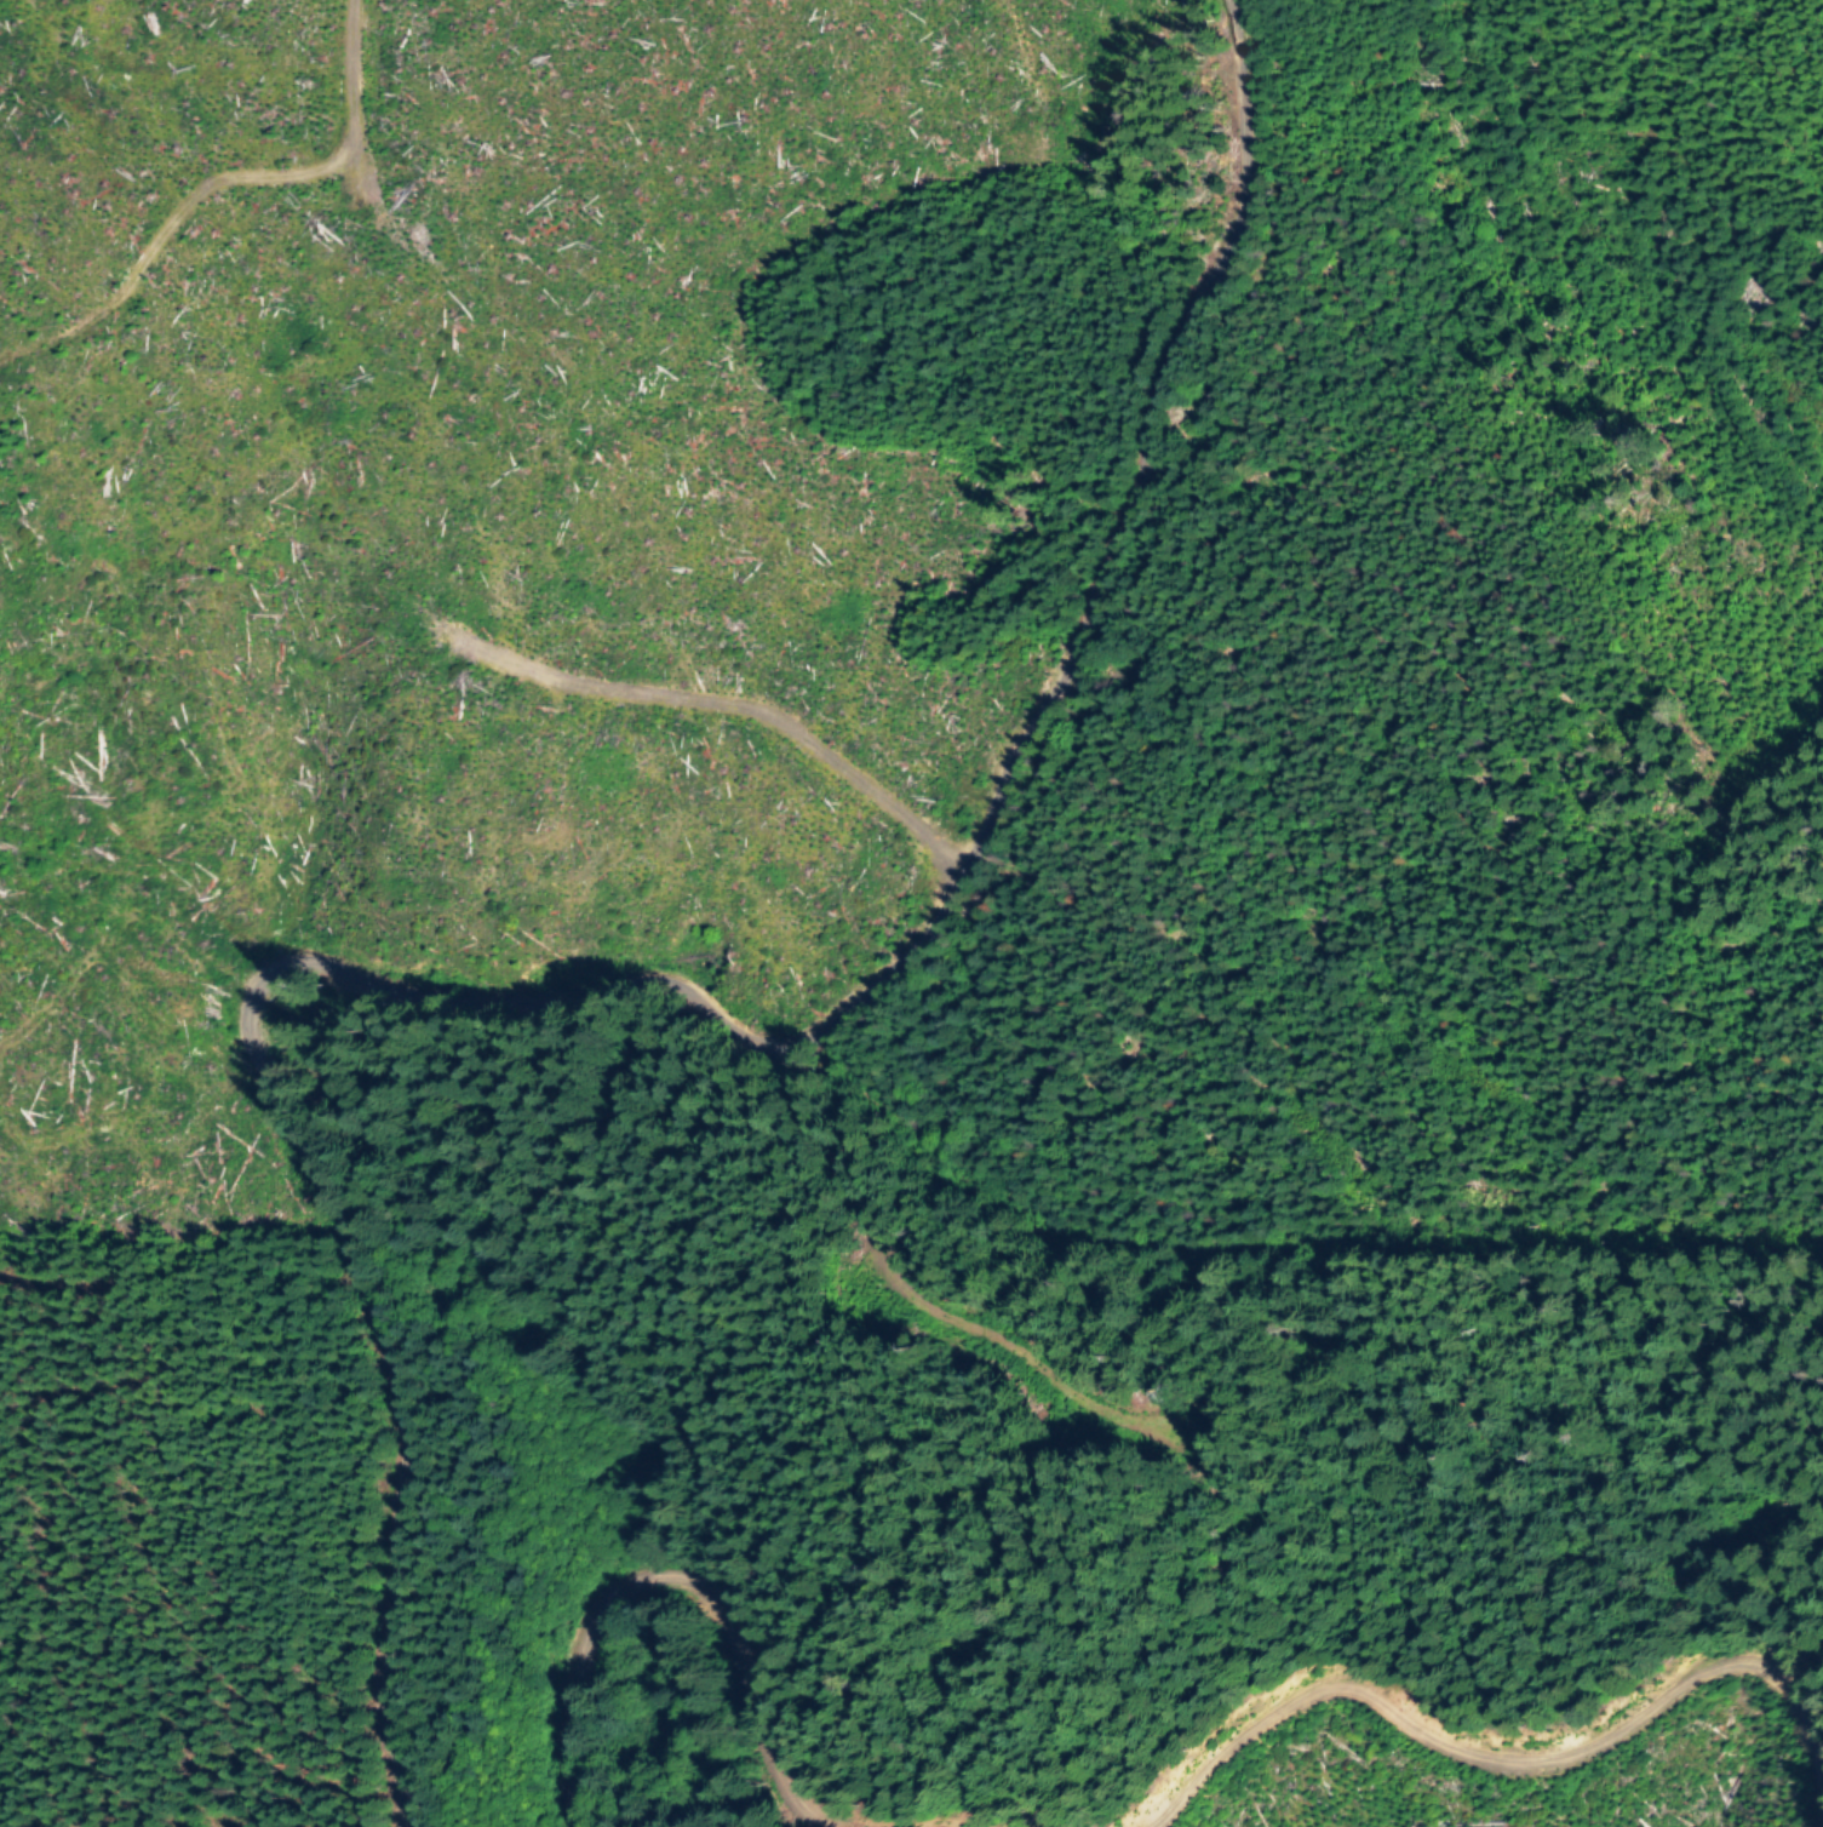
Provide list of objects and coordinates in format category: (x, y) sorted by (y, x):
road: (614, 993)
road: (644, 1597)
road: (1501, 1739)

